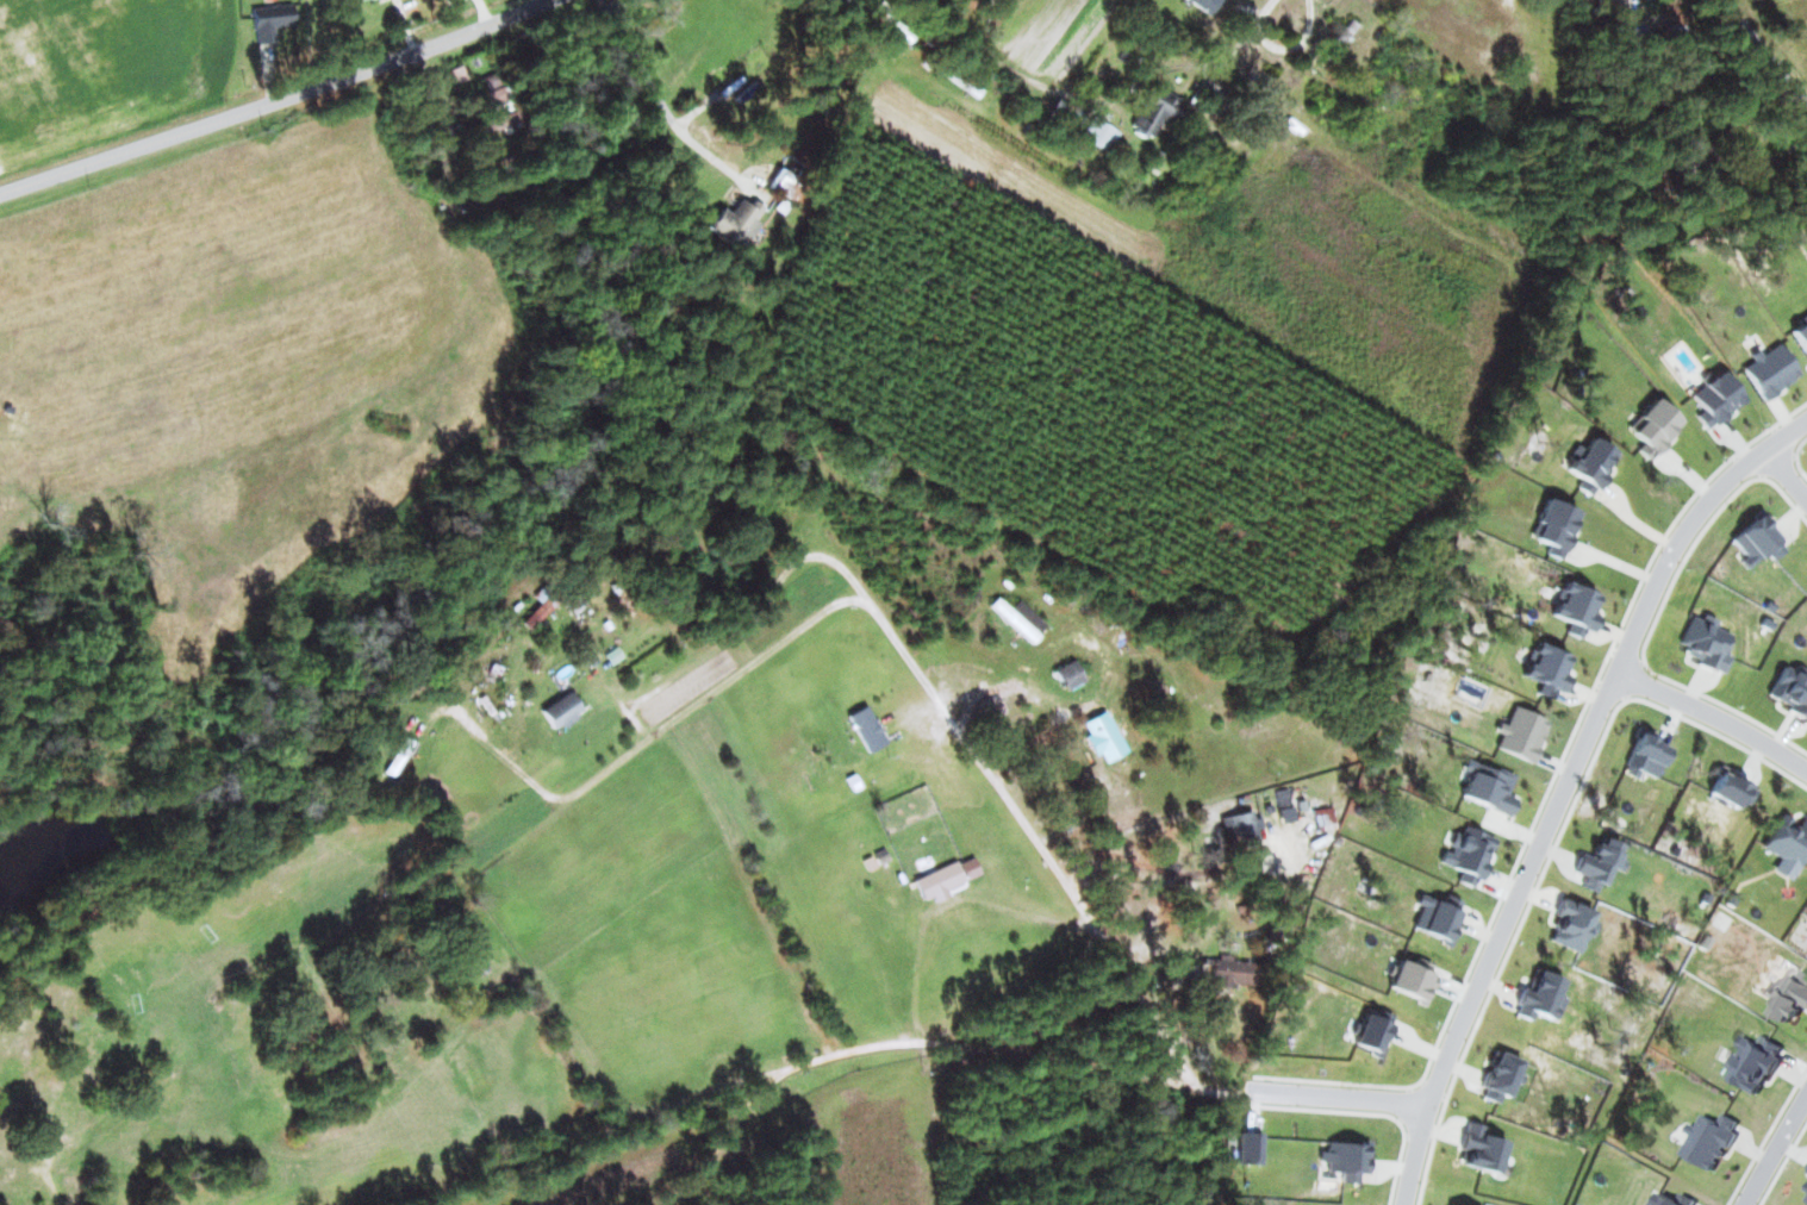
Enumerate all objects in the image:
building: (360, 0)
building: (1205, 5)
building: (270, 21)
road: (1763, 54)
road: (279, 105)
building: (1064, 112)
building: (1157, 113)
building: (783, 183)
building: (734, 221)
building: (1801, 336)
building: (1770, 370)
building: (1715, 399)
building: (1653, 427)
road: (1793, 458)
building: (1590, 464)
building: (1556, 526)
building: (1757, 539)
building: (536, 608)
building: (1577, 608)
building: (1020, 618)
building: (1705, 642)
building: (612, 655)
building: (1549, 669)
building: (1068, 674)
building: (1792, 688)
building: (560, 710)
road: (1715, 712)
building: (866, 729)
building: (1522, 733)
building: (1102, 736)
building: (1645, 753)
building: (397, 755)
road: (997, 779)
building: (1489, 786)
building: (1366, 787)
road: (1566, 787)
building: (1731, 788)
building: (1283, 799)
building: (1240, 828)
building: (1787, 839)
building: (1469, 855)
building: (1600, 863)
building: (939, 881)
building: (1438, 917)
building: (1571, 925)
building: (1233, 972)
building: (1413, 979)
building: (1541, 995)
building: (1789, 997)
building: (1373, 1030)
road: (893, 1043)
building: (1752, 1061)
building: (1501, 1075)
building: (1707, 1138)
road: (1771, 1145)
building: (1250, 1148)
building: (1481, 1149)
building: (1346, 1159)
building: (1806, 1197)
building: (1674, 1199)

